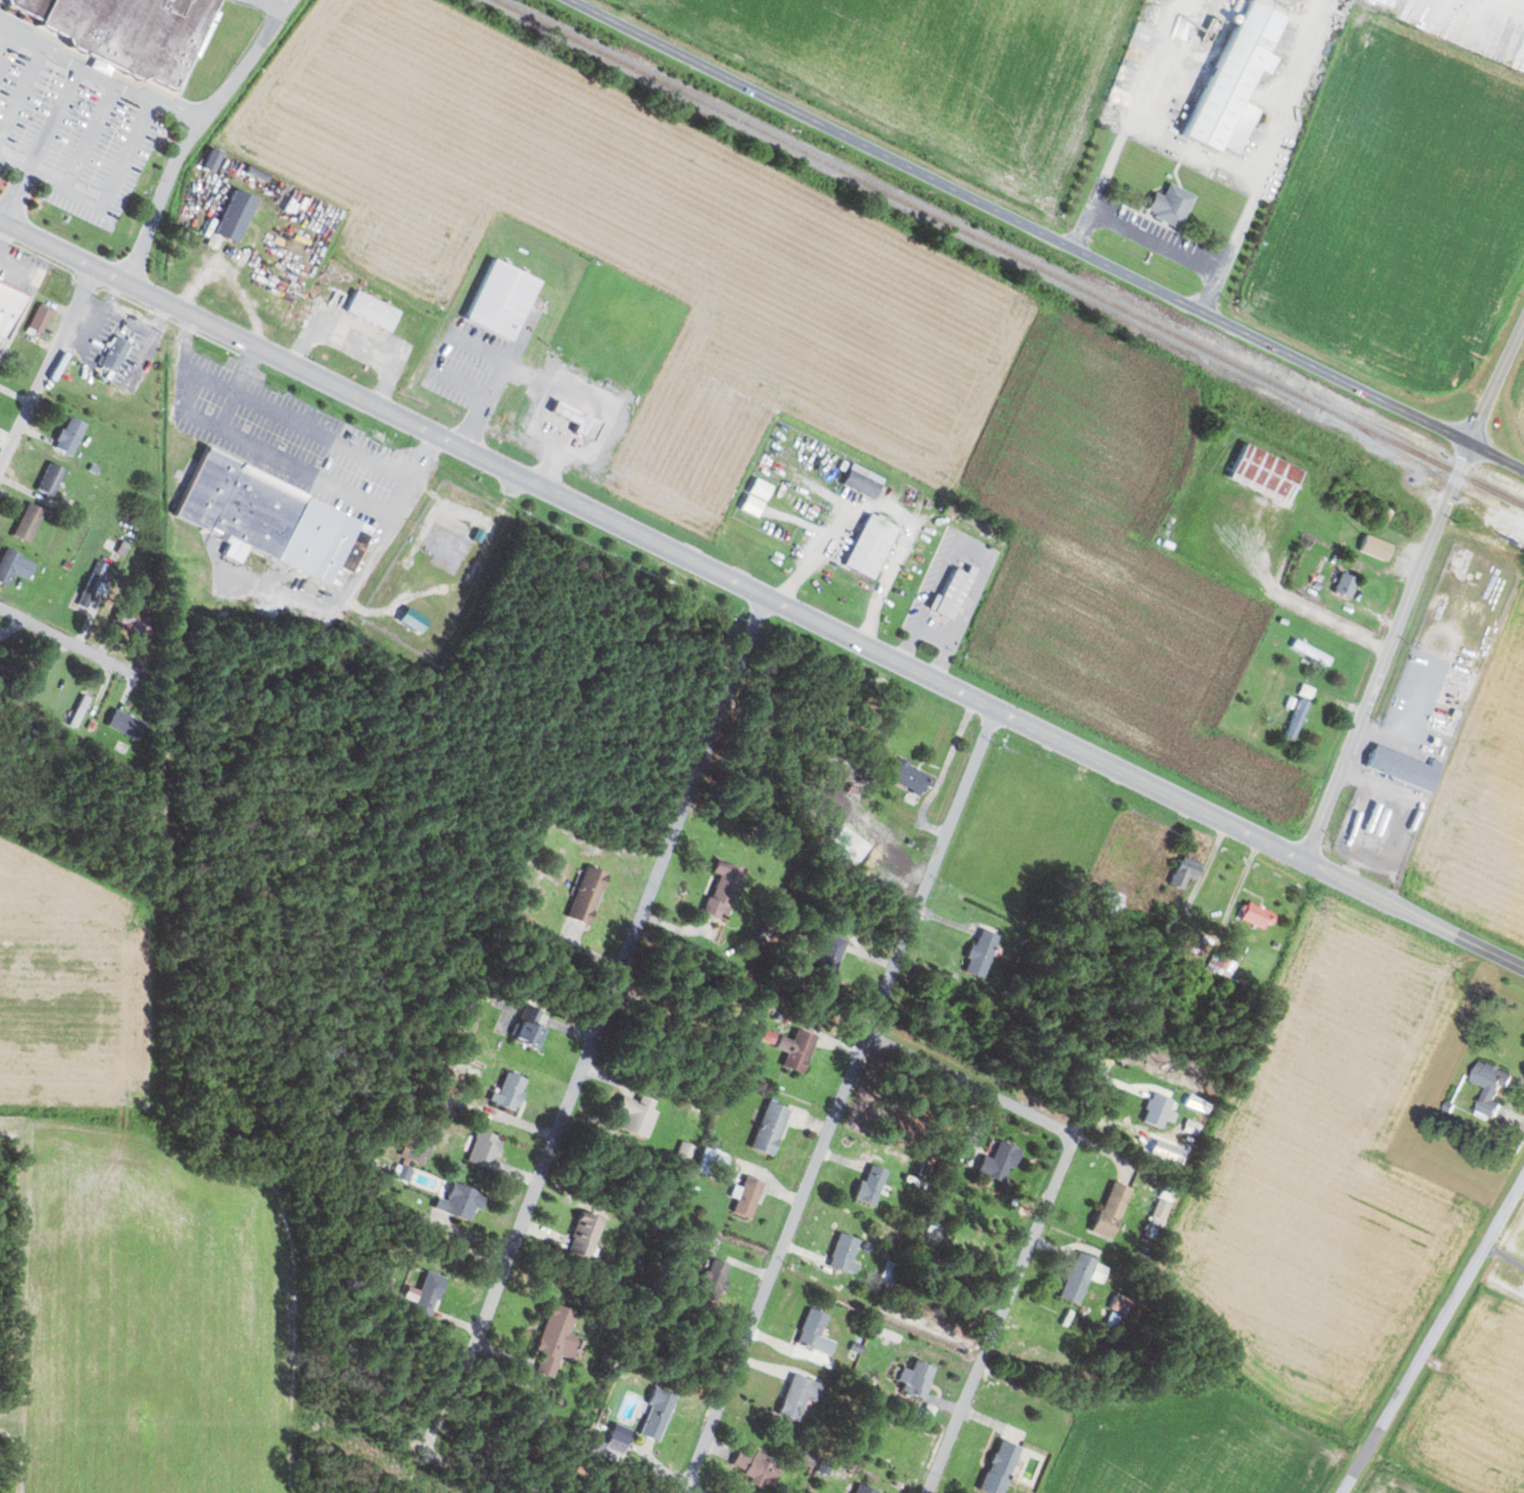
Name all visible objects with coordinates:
building: (30, 6)
building: (134, 33)
building: (1236, 81)
building: (1170, 205)
building: (233, 217)
road: (1026, 225)
road: (47, 242)
railway: (1011, 252)
building: (502, 299)
building: (9, 306)
building: (372, 310)
building: (39, 318)
building: (114, 354)
road: (47, 368)
road: (1497, 380)
building: (579, 420)
building: (69, 435)
road: (1497, 455)
railway: (1432, 473)
building: (1265, 474)
building: (50, 479)
building: (862, 481)
building: (270, 519)
building: (28, 522)
building: (870, 546)
building: (1376, 547)
road: (699, 563)
building: (13, 566)
building: (192, 572)
building: (92, 585)
building: (1345, 585)
building: (951, 593)
building: (133, 619)
road: (1385, 651)
building: (1310, 653)
road: (195, 704)
building: (79, 711)
building: (1296, 719)
building: (126, 724)
building: (1446, 724)
building: (1404, 767)
building: (909, 776)
road: (379, 830)
building: (1184, 871)
road: (82, 874)
building: (723, 889)
building: (587, 894)
building: (1105, 902)
road: (1414, 914)
building: (1255, 915)
building: (981, 953)
building: (828, 958)
building: (1222, 961)
road: (616, 979)
building: (530, 1028)
building: (769, 1036)
building: (796, 1049)
road: (972, 1084)
building: (1491, 1085)
building: (509, 1090)
road: (841, 1100)
building: (1197, 1102)
building: (1157, 1109)
building: (637, 1114)
building: (769, 1128)
building: (419, 1146)
building: (485, 1148)
building: (998, 1162)
building: (871, 1183)
building: (747, 1196)
road: (384, 1198)
building: (460, 1202)
building: (1111, 1209)
building: (585, 1233)
building: (844, 1253)
building: (888, 1272)
building: (1077, 1277)
building: (714, 1280)
road: (1010, 1291)
building: (428, 1294)
building: (1120, 1304)
building: (812, 1328)
road: (1432, 1336)
building: (556, 1339)
building: (915, 1379)
building: (798, 1396)
building: (657, 1414)
building: (617, 1439)
road: (644, 1465)
building: (1000, 1467)
building: (754, 1468)
building: (864, 1489)

